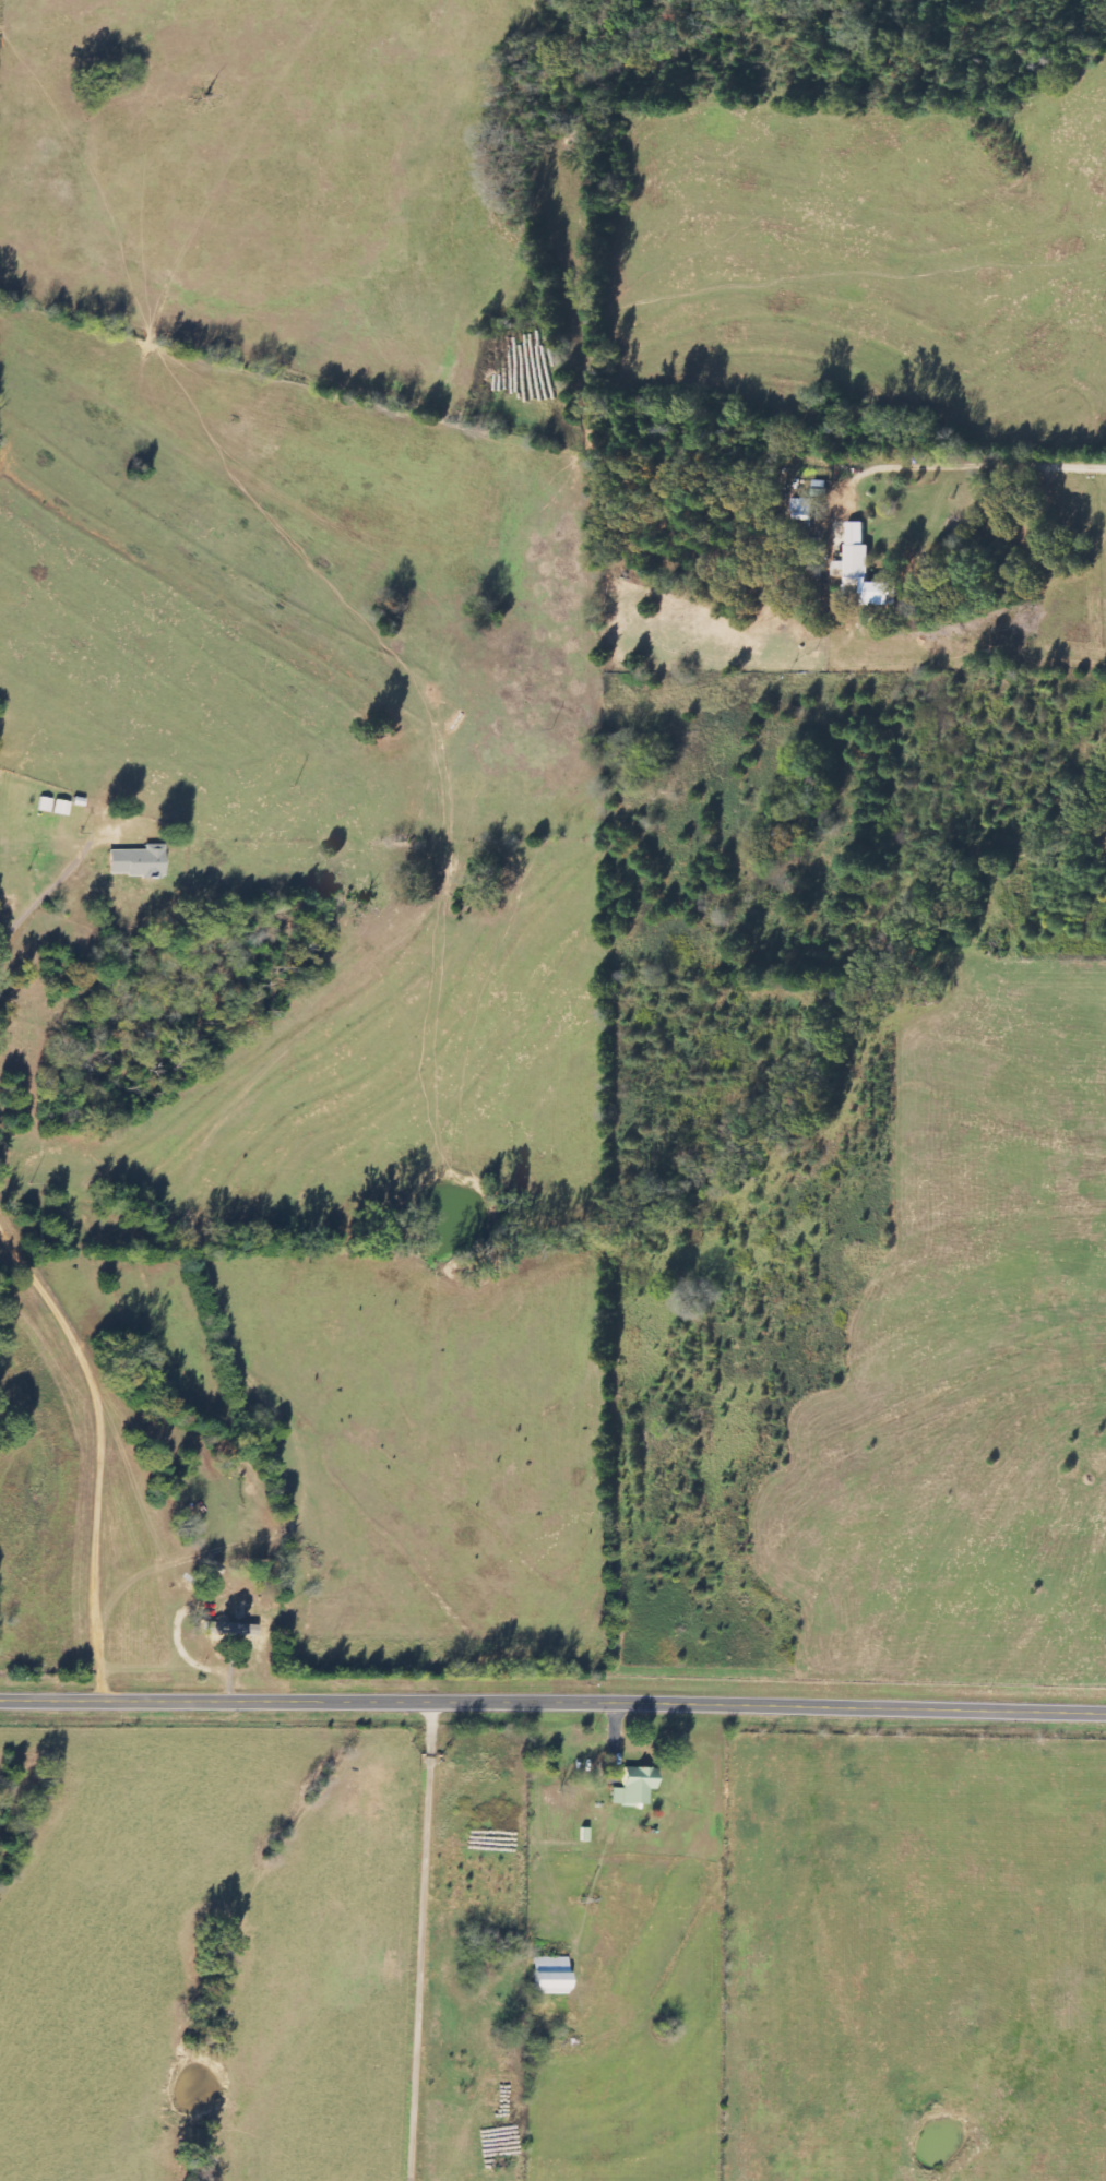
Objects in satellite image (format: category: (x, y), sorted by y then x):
building: (804, 510)
building: (864, 570)
road: (833, 601)
building: (62, 808)
building: (138, 861)
road: (31, 892)
road: (98, 1449)
building: (230, 1629)
road: (552, 1704)
building: (634, 1786)
road: (417, 1942)
building: (551, 1975)

